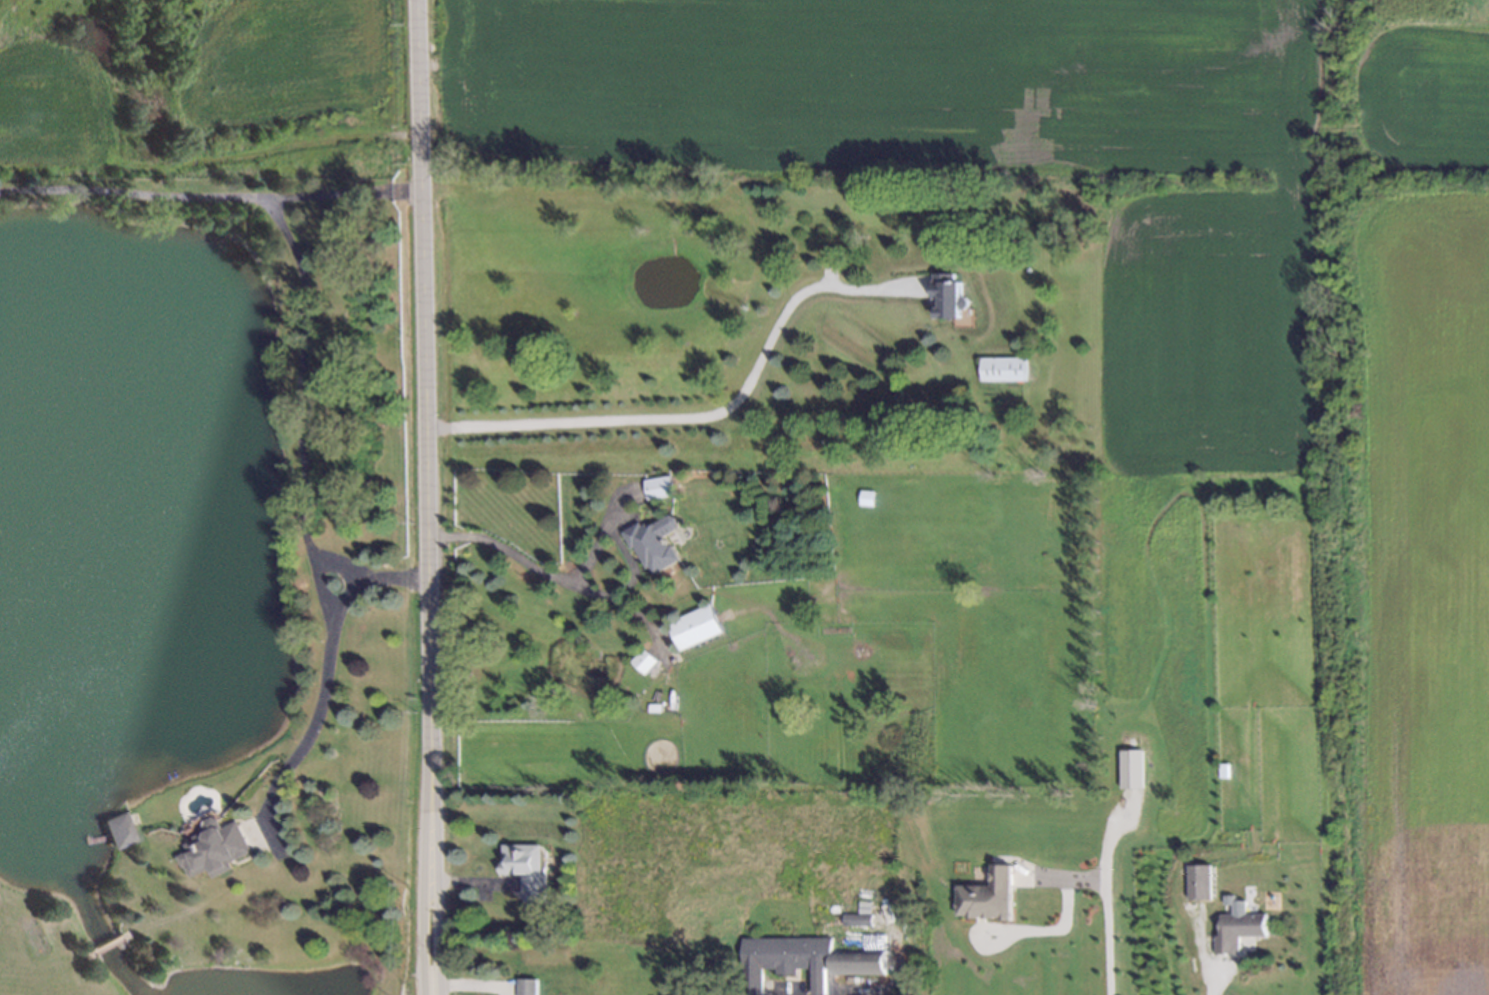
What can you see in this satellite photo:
road: (129, 192)
road: (340, 193)
building: (942, 295)
building: (998, 367)
road: (422, 371)
road: (703, 413)
road: (305, 431)
building: (655, 486)
building: (863, 497)
building: (651, 540)
road: (516, 557)
building: (827, 615)
building: (690, 626)
building: (639, 659)
building: (650, 707)
road: (319, 713)
building: (1130, 769)
building: (1218, 770)
building: (117, 828)
building: (212, 845)
building: (520, 867)
road: (420, 868)
road: (431, 869)
road: (1084, 872)
building: (1197, 882)
building: (985, 896)
building: (857, 918)
building: (1236, 931)
building: (781, 958)
building: (855, 961)
building: (525, 987)

